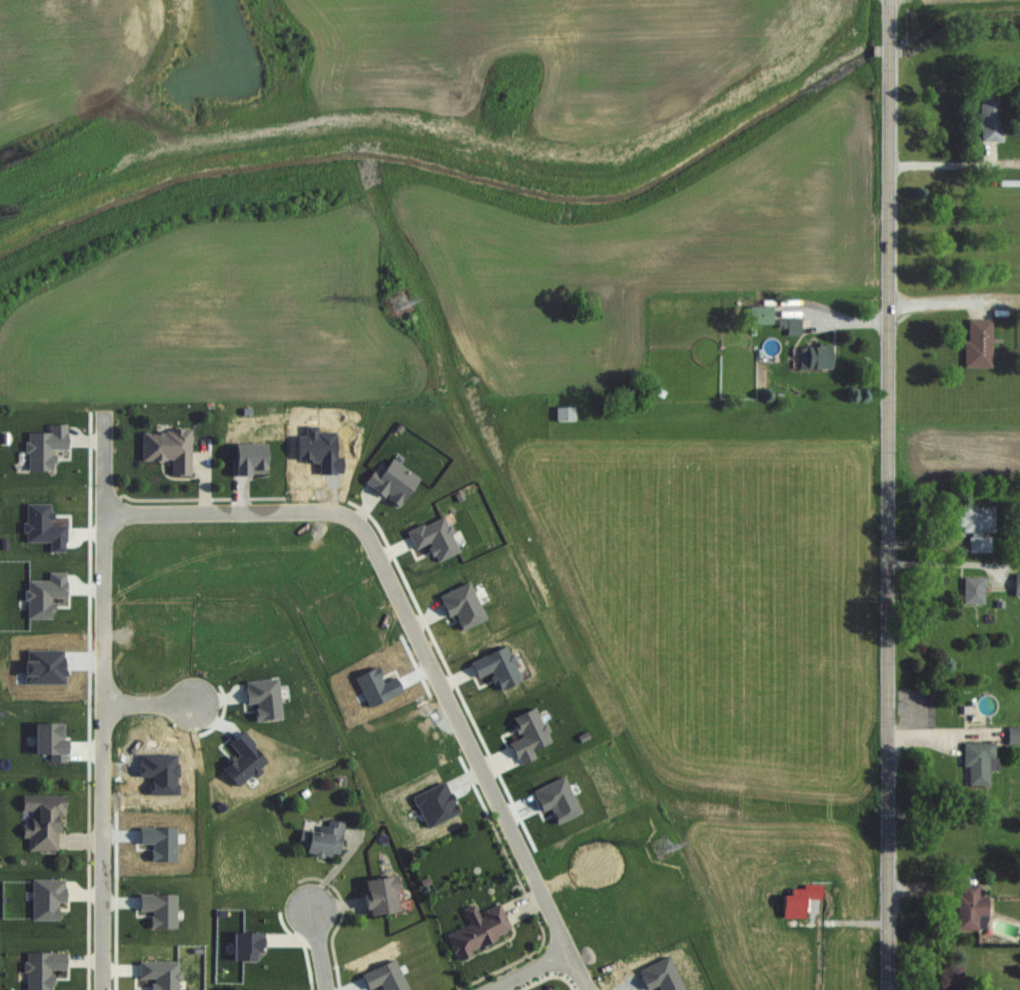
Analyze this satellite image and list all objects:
building: (992, 117)
power tower: (364, 175)
road: (942, 305)
building: (760, 314)
building: (789, 320)
building: (978, 343)
building: (814, 356)
building: (565, 413)
building: (167, 449)
road: (888, 495)
building: (979, 528)
road: (945, 563)
building: (1017, 585)
building: (974, 590)
road: (411, 621)
road: (107, 701)
road: (152, 703)
building: (1013, 735)
building: (979, 762)
building: (43, 820)
building: (321, 839)
power tower: (668, 859)
building: (379, 895)
building: (971, 907)
building: (479, 929)
road: (320, 945)
road: (531, 971)
road: (580, 971)
building: (664, 975)
building: (957, 978)

